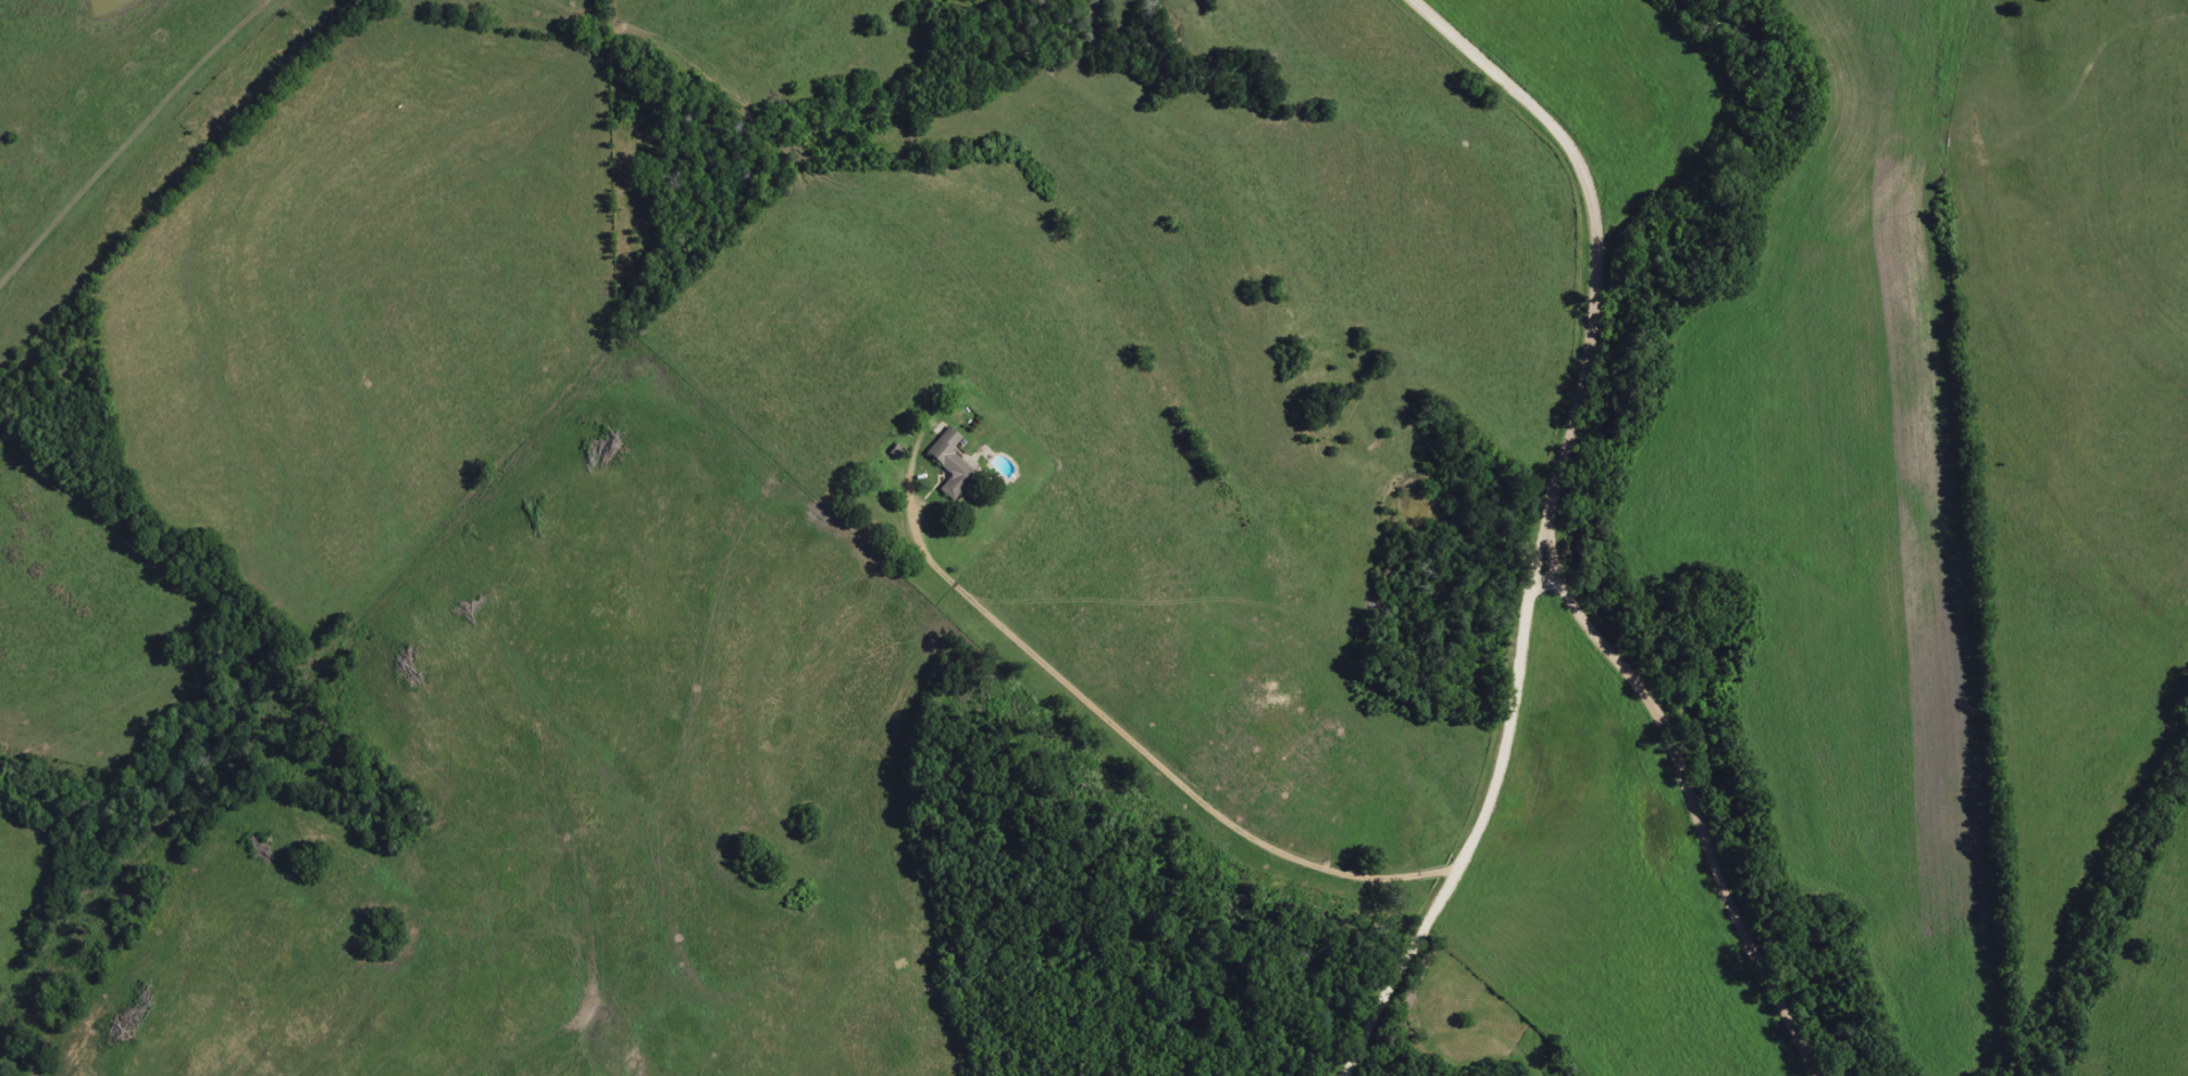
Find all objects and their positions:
building: (949, 463)
road: (1552, 533)
road: (1490, 808)

